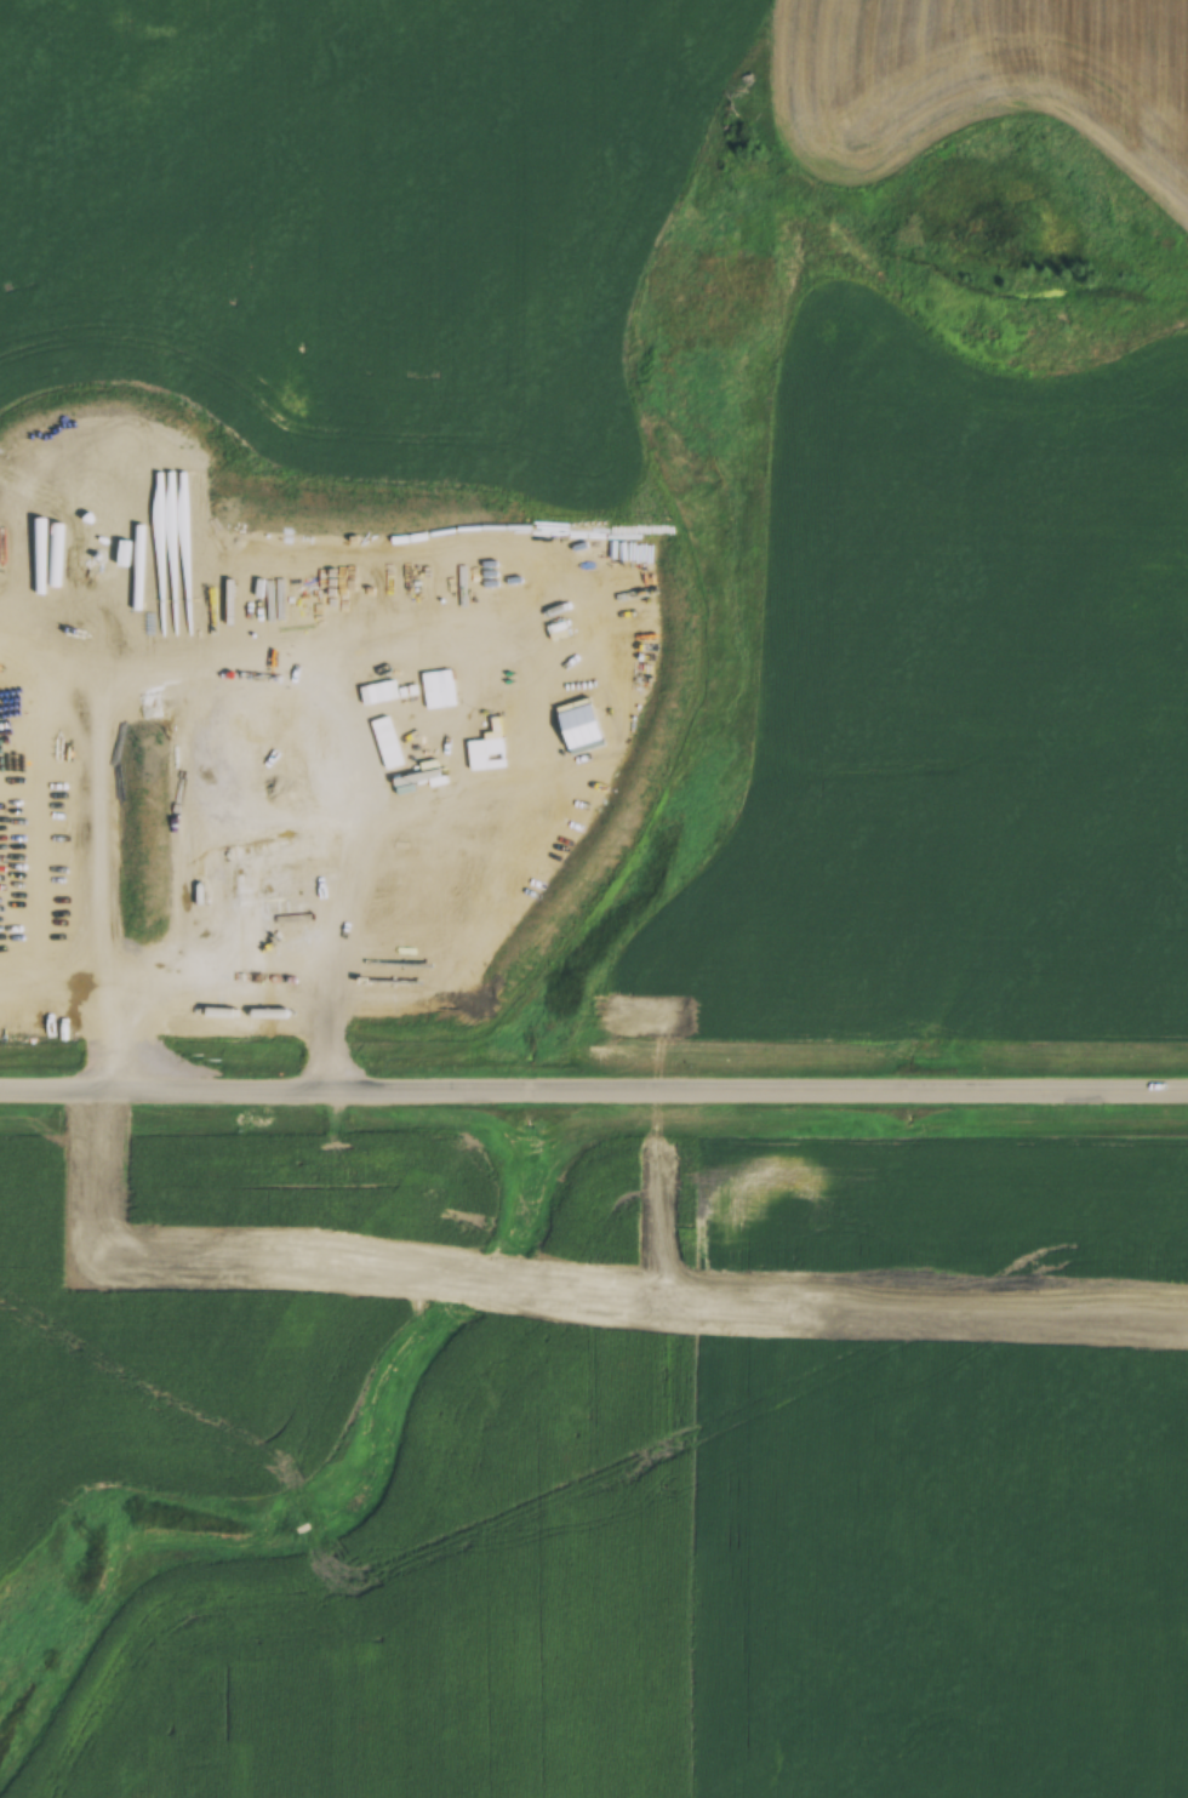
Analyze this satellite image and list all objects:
river: (1028, 251)
wind turbine: (101, 550)
road: (594, 1081)

